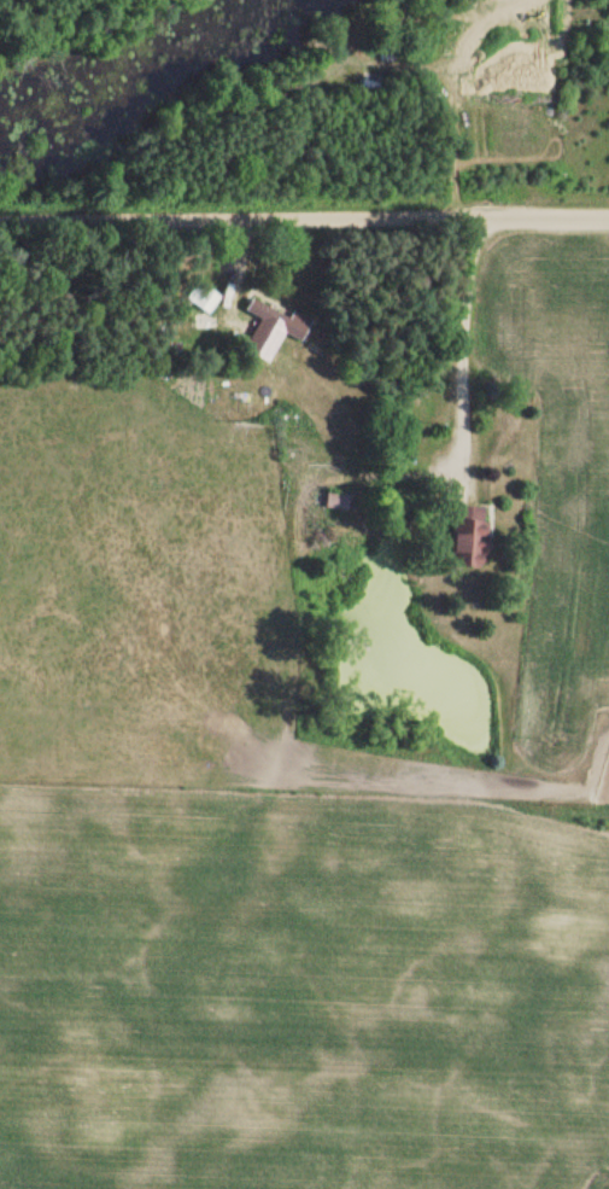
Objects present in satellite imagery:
road: (304, 216)
building: (280, 319)
building: (336, 501)
building: (468, 537)
crop: (299, 992)

